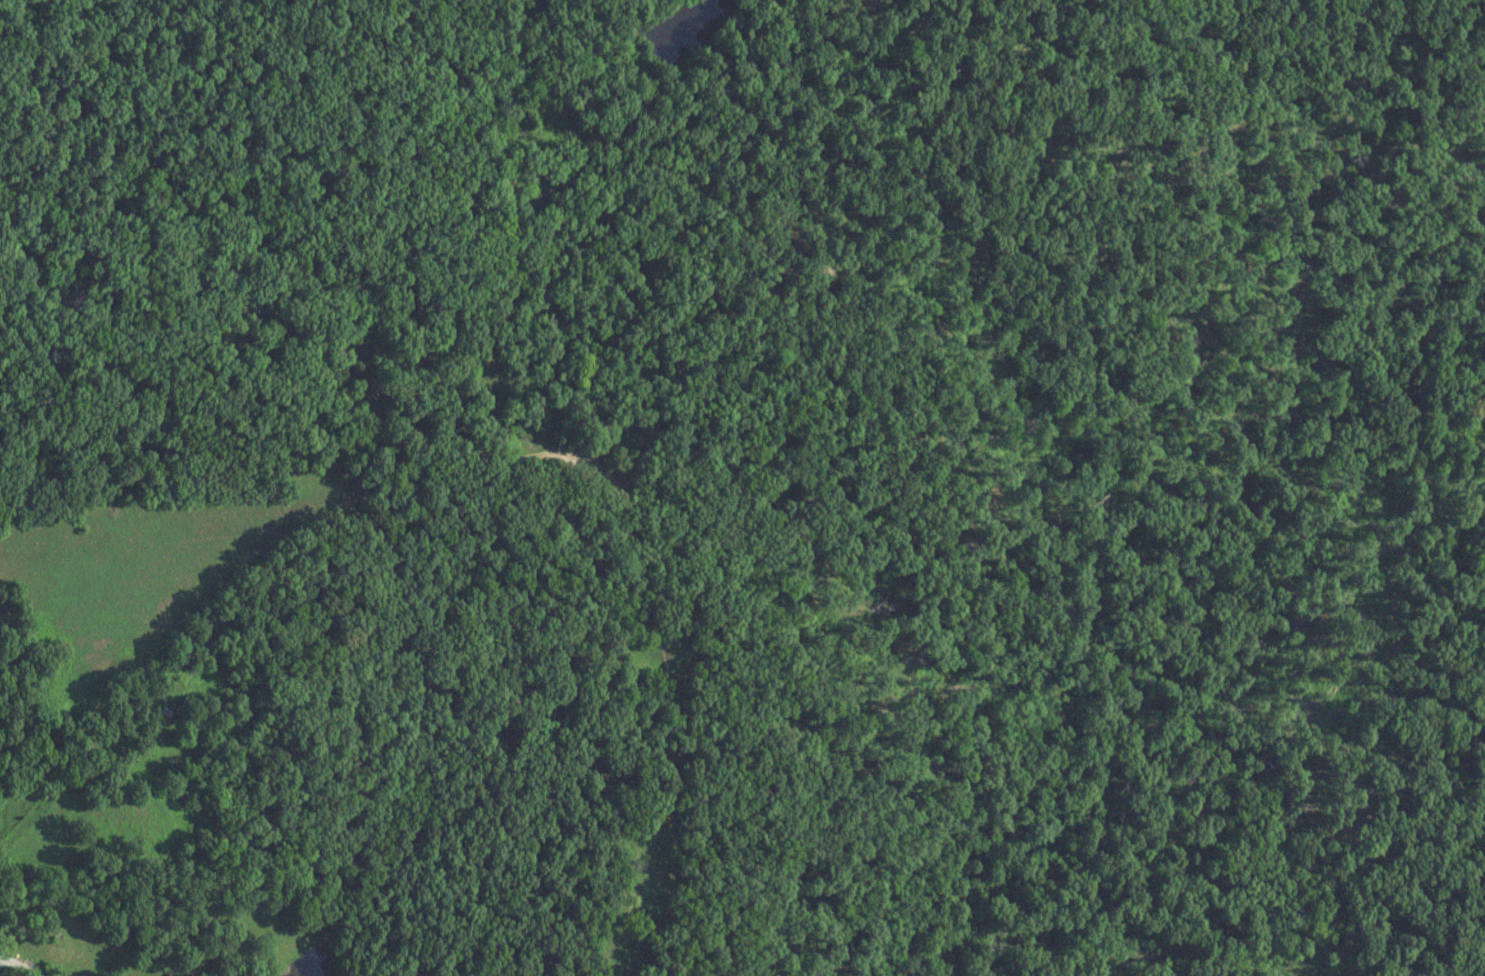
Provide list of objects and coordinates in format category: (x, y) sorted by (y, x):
building: (17, 967)

